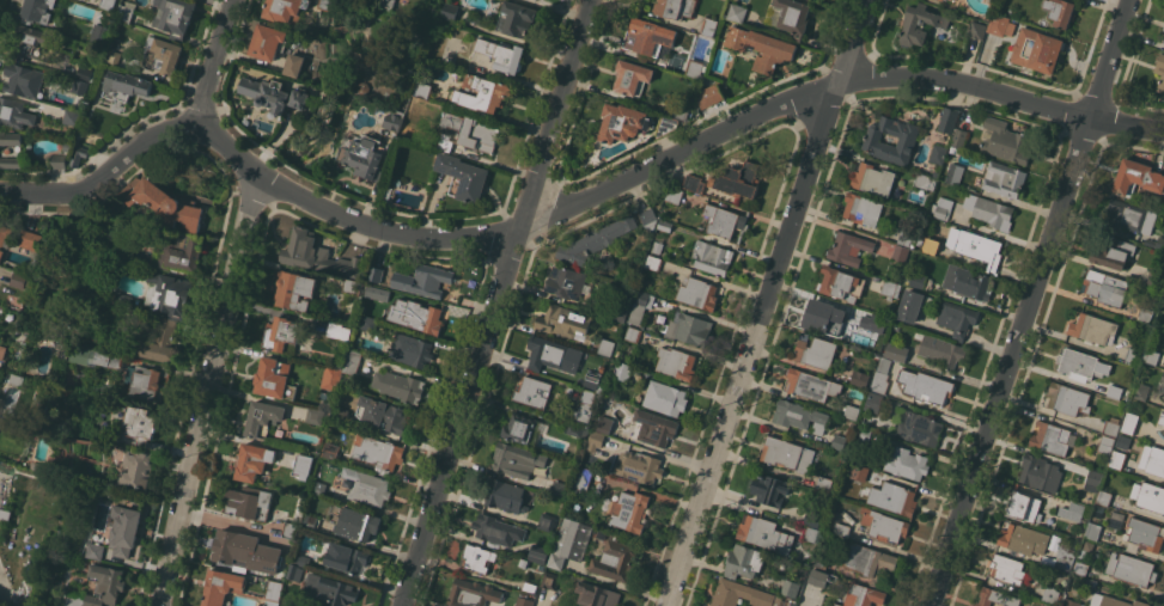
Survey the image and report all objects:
building: (943, 0)
building: (106, 4)
building: (327, 5)
building: (388, 6)
building: (675, 7)
building: (284, 10)
building: (37, 11)
building: (450, 11)
building: (1061, 11)
building: (126, 13)
building: (737, 13)
building: (175, 16)
building: (792, 17)
building: (517, 18)
building: (1042, 22)
building: (920, 24)
building: (709, 26)
building: (1001, 26)
building: (1163, 27)
building: (977, 30)
building: (99, 33)
building: (645, 36)
building: (1163, 39)
building: (30, 41)
building: (268, 42)
building: (762, 47)
building: (706, 48)
building: (1037, 49)
building: (165, 54)
building: (502, 55)
building: (111, 56)
road: (214, 61)
building: (294, 65)
building: (694, 68)
building: (1160, 71)
building: (85, 73)
building: (633, 78)
building: (23, 79)
building: (127, 85)
building: (81, 86)
building: (364, 87)
building: (264, 90)
building: (423, 90)
building: (482, 93)
building: (711, 94)
building: (299, 98)
building: (681, 111)
building: (14, 112)
building: (72, 116)
building: (394, 120)
building: (949, 120)
building: (622, 122)
building: (666, 124)
building: (473, 131)
building: (959, 136)
building: (10, 137)
building: (1005, 141)
building: (444, 142)
building: (876, 142)
building: (68, 146)
building: (938, 153)
building: (78, 154)
building: (364, 159)
building: (59, 160)
building: (11, 161)
building: (955, 172)
building: (936, 173)
building: (463, 176)
building: (1136, 177)
building: (873, 178)
building: (1004, 178)
building: (737, 179)
building: (926, 182)
building: (694, 183)
building: (674, 195)
building: (164, 203)
road: (566, 208)
building: (863, 208)
building: (943, 208)
building: (992, 212)
building: (647, 215)
building: (1129, 216)
building: (724, 221)
building: (665, 225)
building: (5, 234)
building: (659, 235)
building: (906, 237)
building: (29, 239)
building: (596, 239)
building: (1154, 243)
building: (657, 246)
building: (849, 247)
building: (930, 247)
building: (980, 247)
building: (1111, 251)
building: (182, 252)
building: (901, 252)
building: (1, 253)
building: (317, 253)
building: (712, 257)
building: (653, 263)
building: (376, 274)
building: (1154, 277)
building: (916, 278)
building: (20, 280)
building: (423, 280)
building: (967, 281)
building: (567, 282)
building: (841, 283)
building: (349, 286)
building: (1105, 287)
building: (890, 288)
building: (295, 289)
building: (374, 290)
building: (697, 293)
building: (171, 294)
road: (495, 302)
road: (768, 302)
road: (1030, 302)
building: (1163, 304)
building: (910, 305)
building: (640, 306)
building: (621, 314)
building: (1145, 314)
building: (367, 317)
building: (419, 317)
building: (824, 317)
building: (957, 318)
building: (563, 322)
building: (878, 325)
building: (689, 328)
building: (1092, 329)
building: (337, 330)
building: (281, 335)
building: (633, 335)
building: (159, 339)
building: (1138, 344)
building: (607, 347)
building: (410, 350)
building: (896, 350)
building: (2, 351)
building: (815, 351)
building: (946, 351)
building: (550, 354)
building: (80, 355)
building: (618, 355)
building: (1133, 355)
building: (1151, 356)
building: (110, 359)
building: (352, 361)
building: (676, 362)
building: (1081, 365)
building: (621, 371)
building: (331, 375)
building: (593, 375)
building: (880, 375)
building: (1163, 377)
building: (274, 378)
building: (859, 379)
building: (150, 381)
building: (398, 385)
building: (815, 385)
building: (926, 386)
building: (532, 391)
building: (1115, 391)
building: (1141, 391)
road: (203, 392)
building: (323, 396)
building: (665, 398)
building: (1068, 398)
building: (1163, 398)
building: (873, 400)
building: (584, 404)
building: (852, 411)
building: (383, 414)
building: (341, 415)
building: (799, 415)
building: (315, 416)
building: (263, 417)
building: (1162, 418)
building: (139, 423)
building: (1129, 423)
building: (604, 424)
building: (1111, 426)
building: (653, 427)
building: (519, 428)
building: (919, 428)
building: (577, 430)
building: (864, 434)
building: (1050, 437)
building: (596, 441)
building: (839, 441)
building: (1123, 441)
building: (1105, 443)
building: (331, 451)
building: (380, 453)
building: (787, 453)
building: (1117, 459)
building: (1152, 459)
building: (254, 460)
building: (517, 460)
building: (907, 463)
building: (37, 465)
building: (304, 465)
building: (639, 466)
building: (135, 470)
building: (858, 471)
building: (1040, 472)
building: (583, 478)
building: (1093, 479)
building: (824, 483)
building: (366, 486)
building: (319, 488)
building: (557, 488)
building: (768, 489)
building: (506, 496)
building: (1148, 496)
building: (894, 497)
building: (1103, 497)
building: (249, 502)
building: (1024, 507)
building: (629, 510)
building: (1072, 510)
building: (1098, 512)
road: (1139, 512)
building: (1117, 515)
building: (812, 518)
building: (310, 521)
building: (547, 521)
building: (356, 522)
building: (1115, 524)
building: (884, 525)
building: (291, 530)
building: (498, 530)
building: (841, 530)
building: (1093, 531)
building: (123, 532)
building: (599, 533)
building: (764, 533)
building: (812, 534)
building: (1144, 535)
building: (629, 538)
building: (1024, 539)
building: (571, 543)
building: (1089, 545)
building: (95, 550)
building: (246, 551)
building: (538, 552)
building: (349, 557)
building: (477, 557)
building: (301, 558)
building: (615, 558)
building: (1065, 558)
building: (870, 559)
building: (744, 561)
building: (821, 561)
building: (524, 562)
building: (1081, 568)
building: (1007, 569)
building: (1132, 569)
building: (295, 571)
building: (802, 574)
building: (819, 577)
building: (550, 580)
building: (1091, 582)
building: (112, 586)
building: (223, 586)
building: (530, 587)
building: (791, 588)
building: (330, 589)
building: (274, 593)
building: (473, 593)
building: (741, 594)
building: (1052, 594)
building: (597, 595)
building: (863, 595)
building: (997, 598)
building: (291, 600)
building: (524, 600)
building: (1071, 600)
building: (1114, 601)
building: (782, 602)

